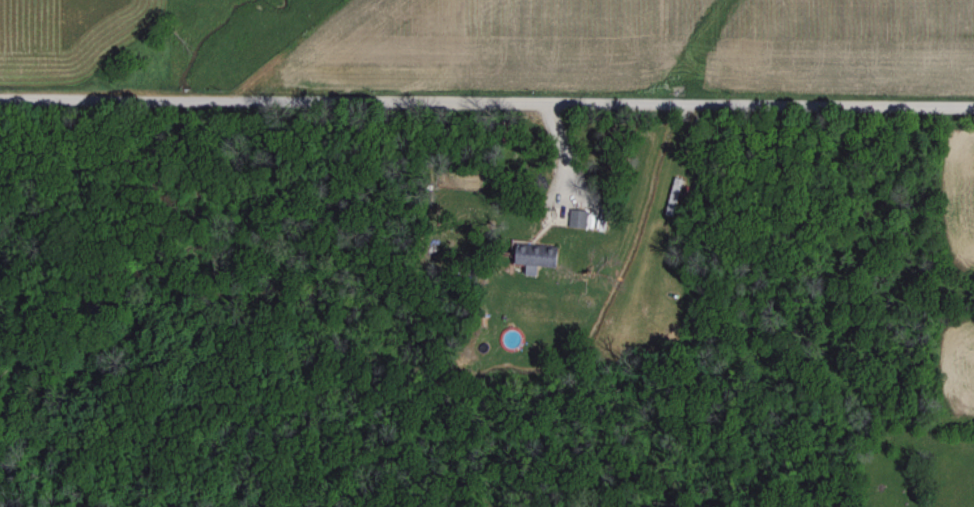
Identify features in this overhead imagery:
road: (486, 101)
road: (560, 151)
building: (673, 194)
building: (575, 217)
building: (532, 254)

